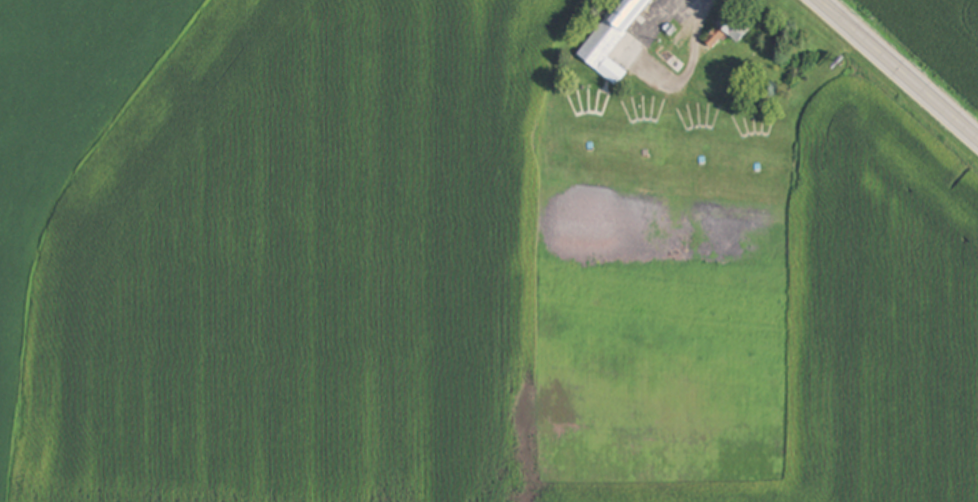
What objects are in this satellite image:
building: (729, 29)
building: (611, 38)
building: (670, 59)
road: (888, 79)

